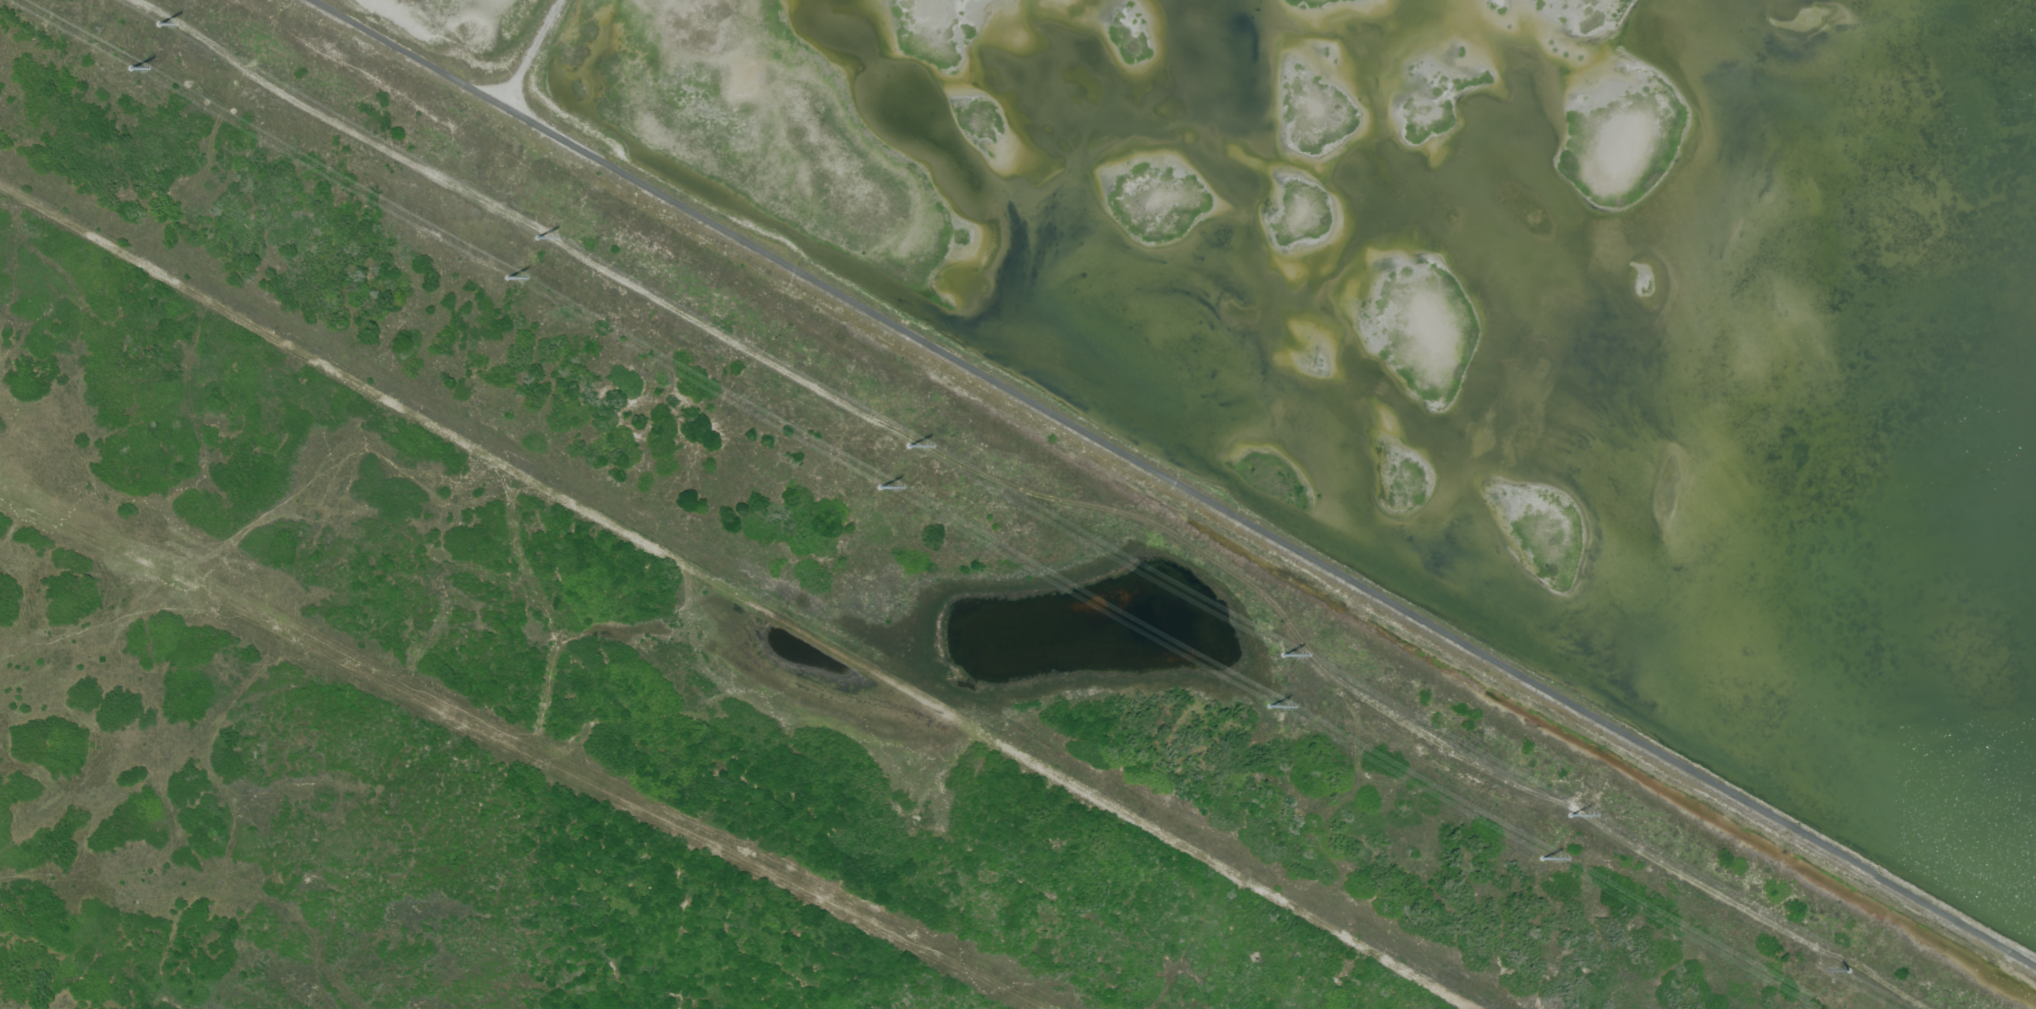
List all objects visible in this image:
power tower: (158, 21)
power tower: (132, 63)
road: (460, 80)
power tower: (536, 235)
power tower: (507, 274)
power plant: (1245, 406)
power tower: (910, 441)
power tower: (878, 483)
road: (1269, 535)
power tower: (1282, 651)
power tower: (1269, 702)
power tower: (1572, 810)
power tower: (1540, 856)
power tower: (1848, 968)

